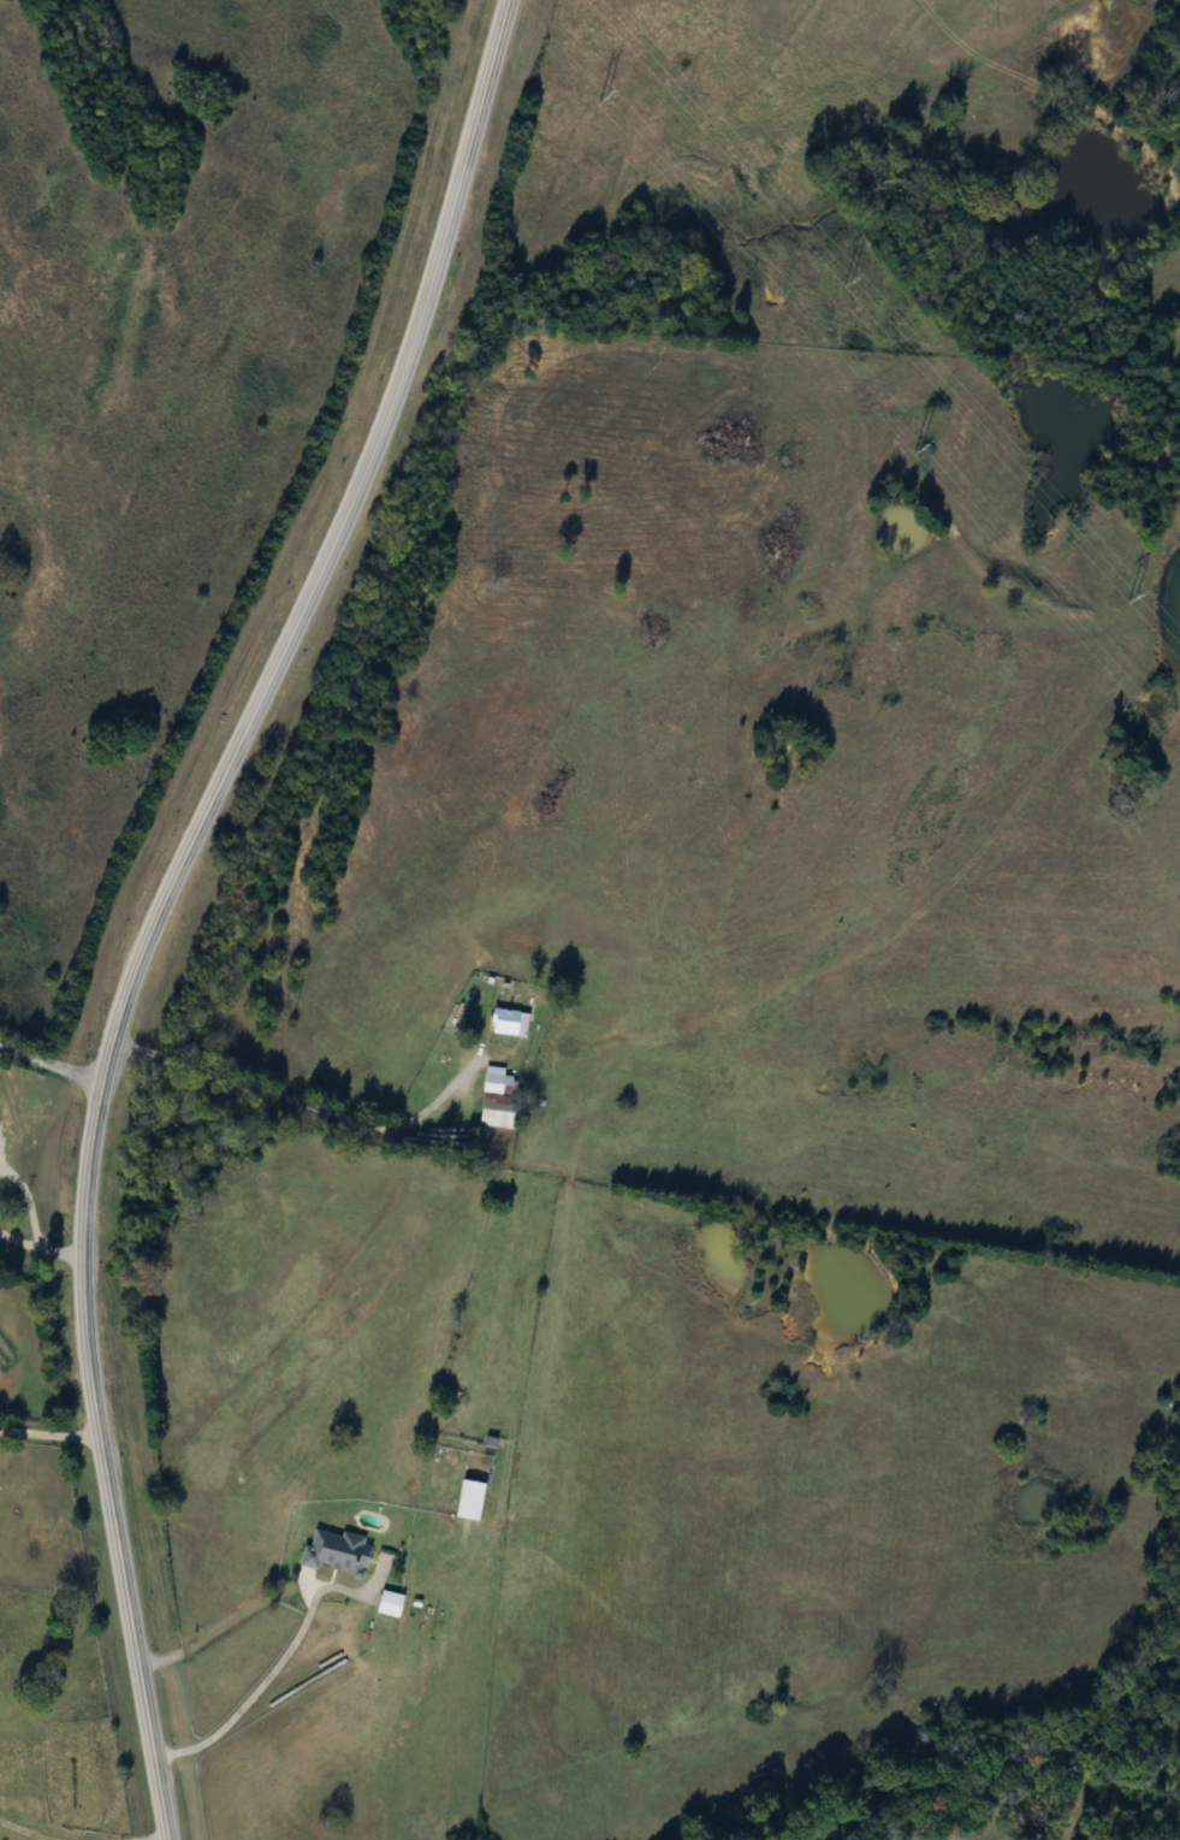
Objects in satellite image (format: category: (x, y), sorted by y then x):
power tower: (598, 96)
power tower: (824, 274)
power tower: (895, 446)
power tower: (1113, 596)
road: (161, 894)
building: (515, 1025)
road: (49, 1064)
road: (296, 1099)
building: (487, 1114)
road: (25, 1202)
road: (18, 1238)
road: (59, 1250)
road: (47, 1432)
building: (462, 1499)
building: (363, 1555)
building: (384, 1603)
road: (265, 1679)
road: (22, 1833)
road: (153, 1838)

